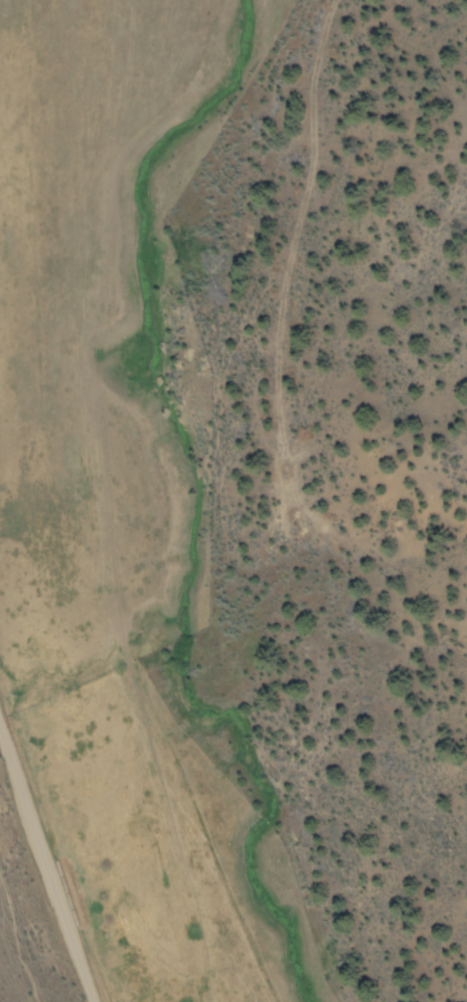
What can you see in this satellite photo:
road: (59, 826)

